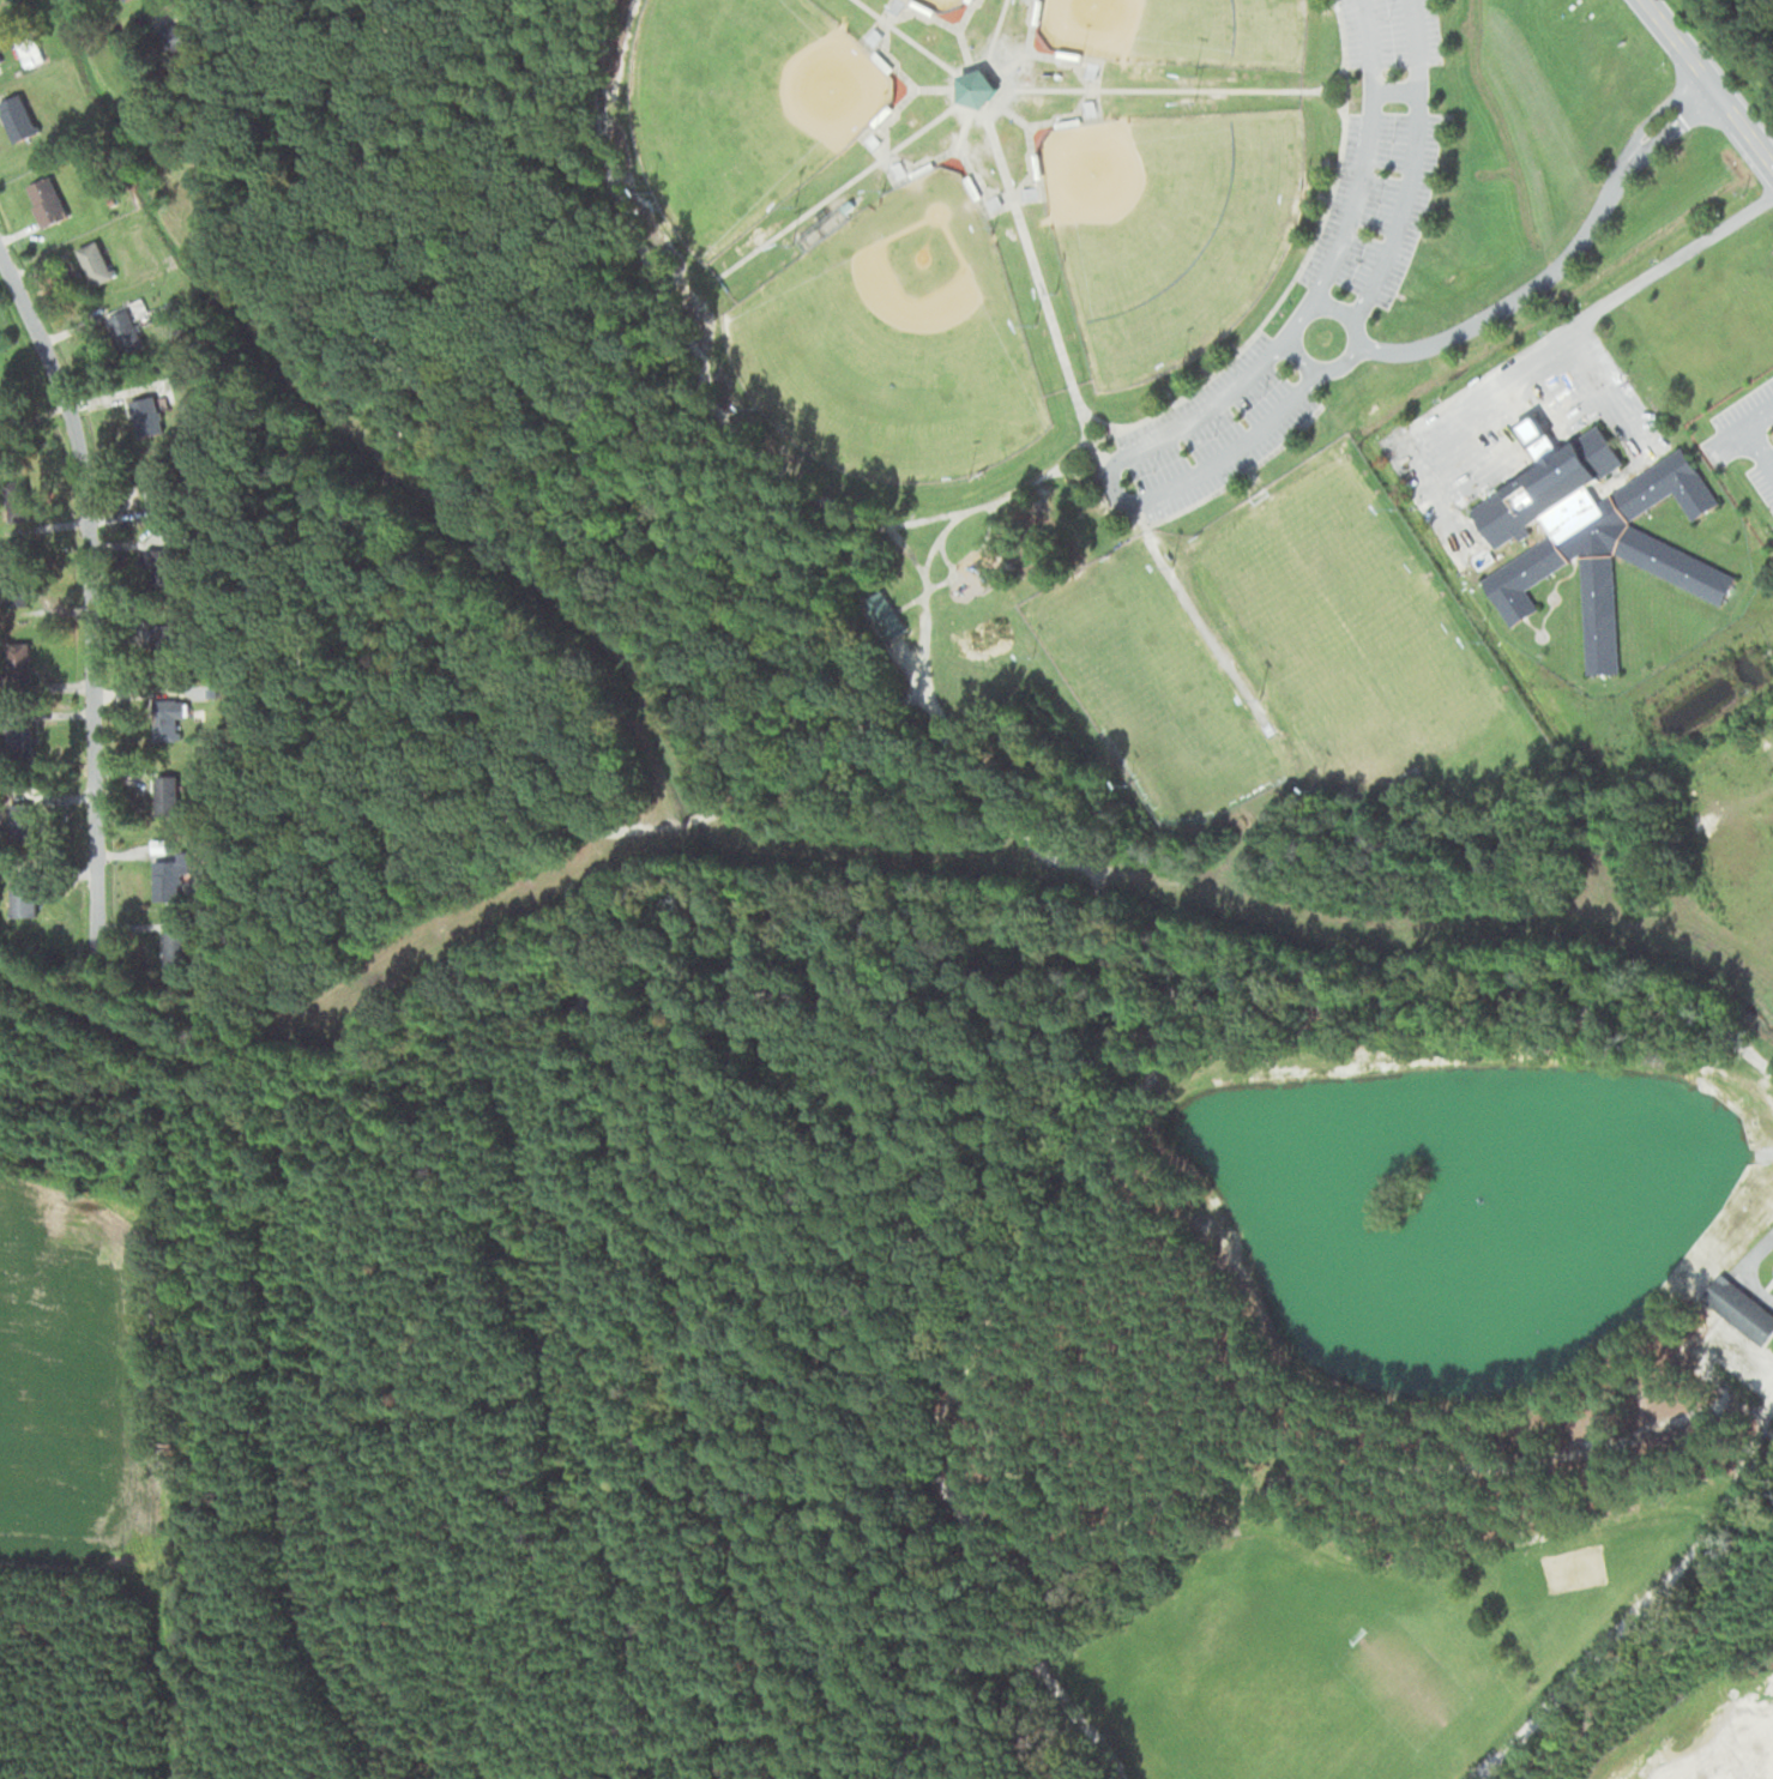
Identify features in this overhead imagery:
park: (945, 4)
road: (996, 29)
park: (1180, 30)
parking lot: (1392, 32)
building: (183, 35)
road: (905, 35)
road: (886, 41)
building: (25, 43)
road: (965, 49)
building: (0, 60)
road: (1012, 62)
road: (1331, 80)
road: (936, 88)
road: (1707, 88)
building: (978, 89)
road: (1158, 89)
road: (1395, 90)
road: (1084, 97)
road: (1331, 97)
road: (999, 99)
park: (744, 107)
road: (1012, 114)
building: (16, 116)
road: (964, 127)
road: (959, 145)
road: (1365, 158)
road: (1411, 165)
road: (837, 189)
building: (44, 200)
parking lot: (1377, 203)
park: (1169, 229)
building: (92, 263)
road: (1561, 263)
road: (1299, 269)
road: (1043, 295)
building: (173, 307)
road: (1314, 307)
building: (126, 324)
park: (895, 340)
building: (143, 416)
road: (1102, 420)
parking lot: (1214, 430)
road: (1240, 477)
road: (1024, 487)
road: (1115, 492)
building: (1591, 530)
building: (14, 586)
road: (89, 601)
road: (1193, 611)
building: (882, 615)
park: (1347, 627)
building: (158, 631)
building: (13, 661)
park: (1150, 681)
building: (163, 718)
building: (30, 797)
building: (165, 870)
building: (22, 895)
building: (174, 949)
building: (1739, 1309)

